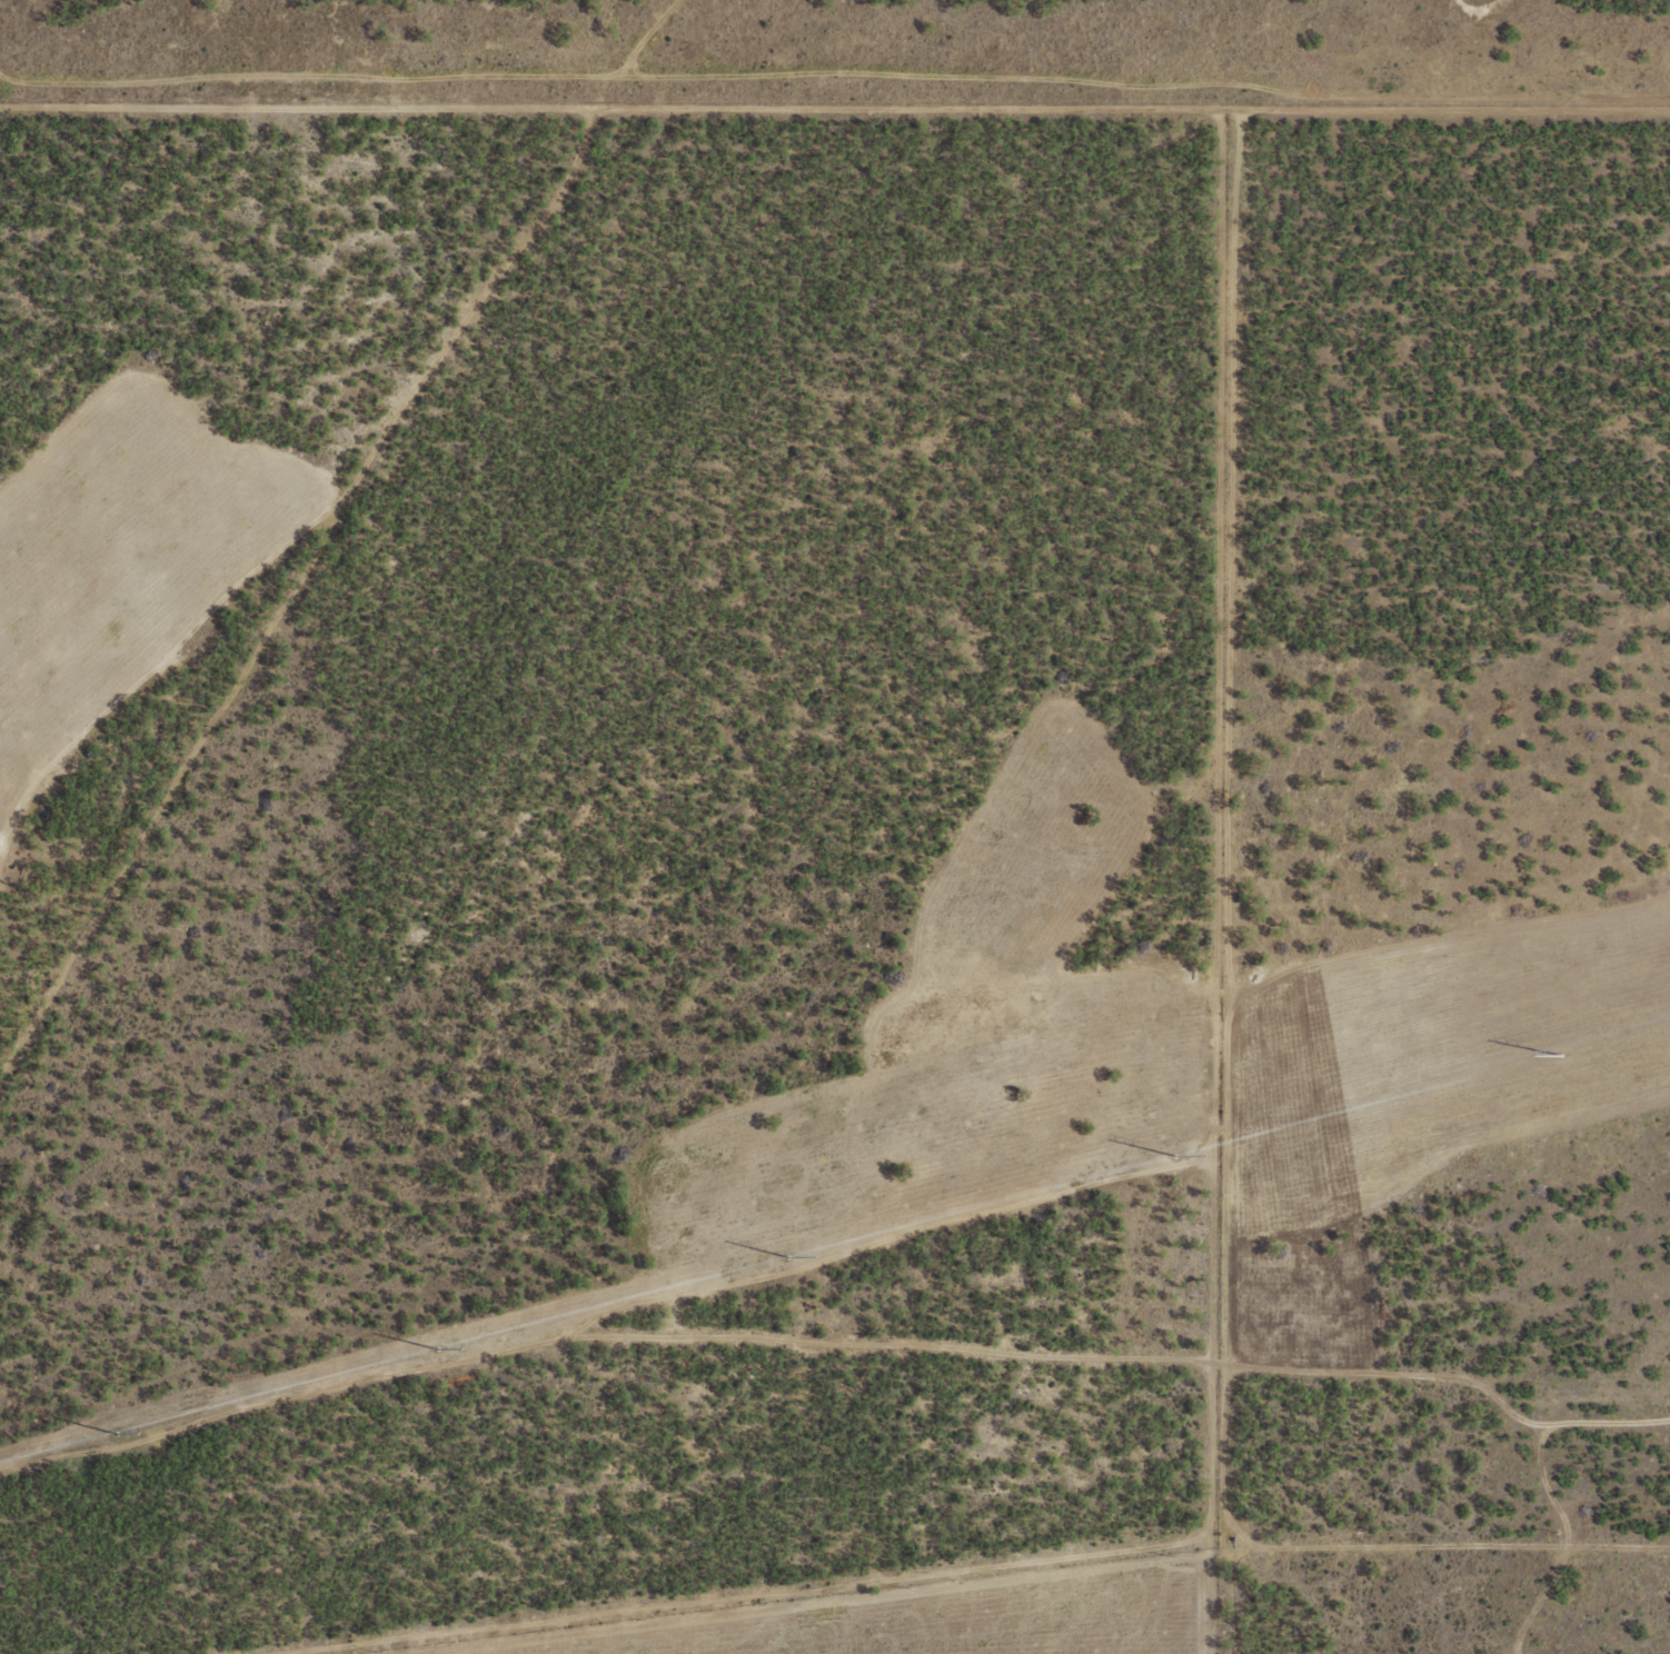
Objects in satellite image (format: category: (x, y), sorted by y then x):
road: (480, 542)
power tower: (1557, 1054)
power tower: (1171, 1155)
power tower: (785, 1256)
power tower: (435, 1348)
power tower: (112, 1433)

